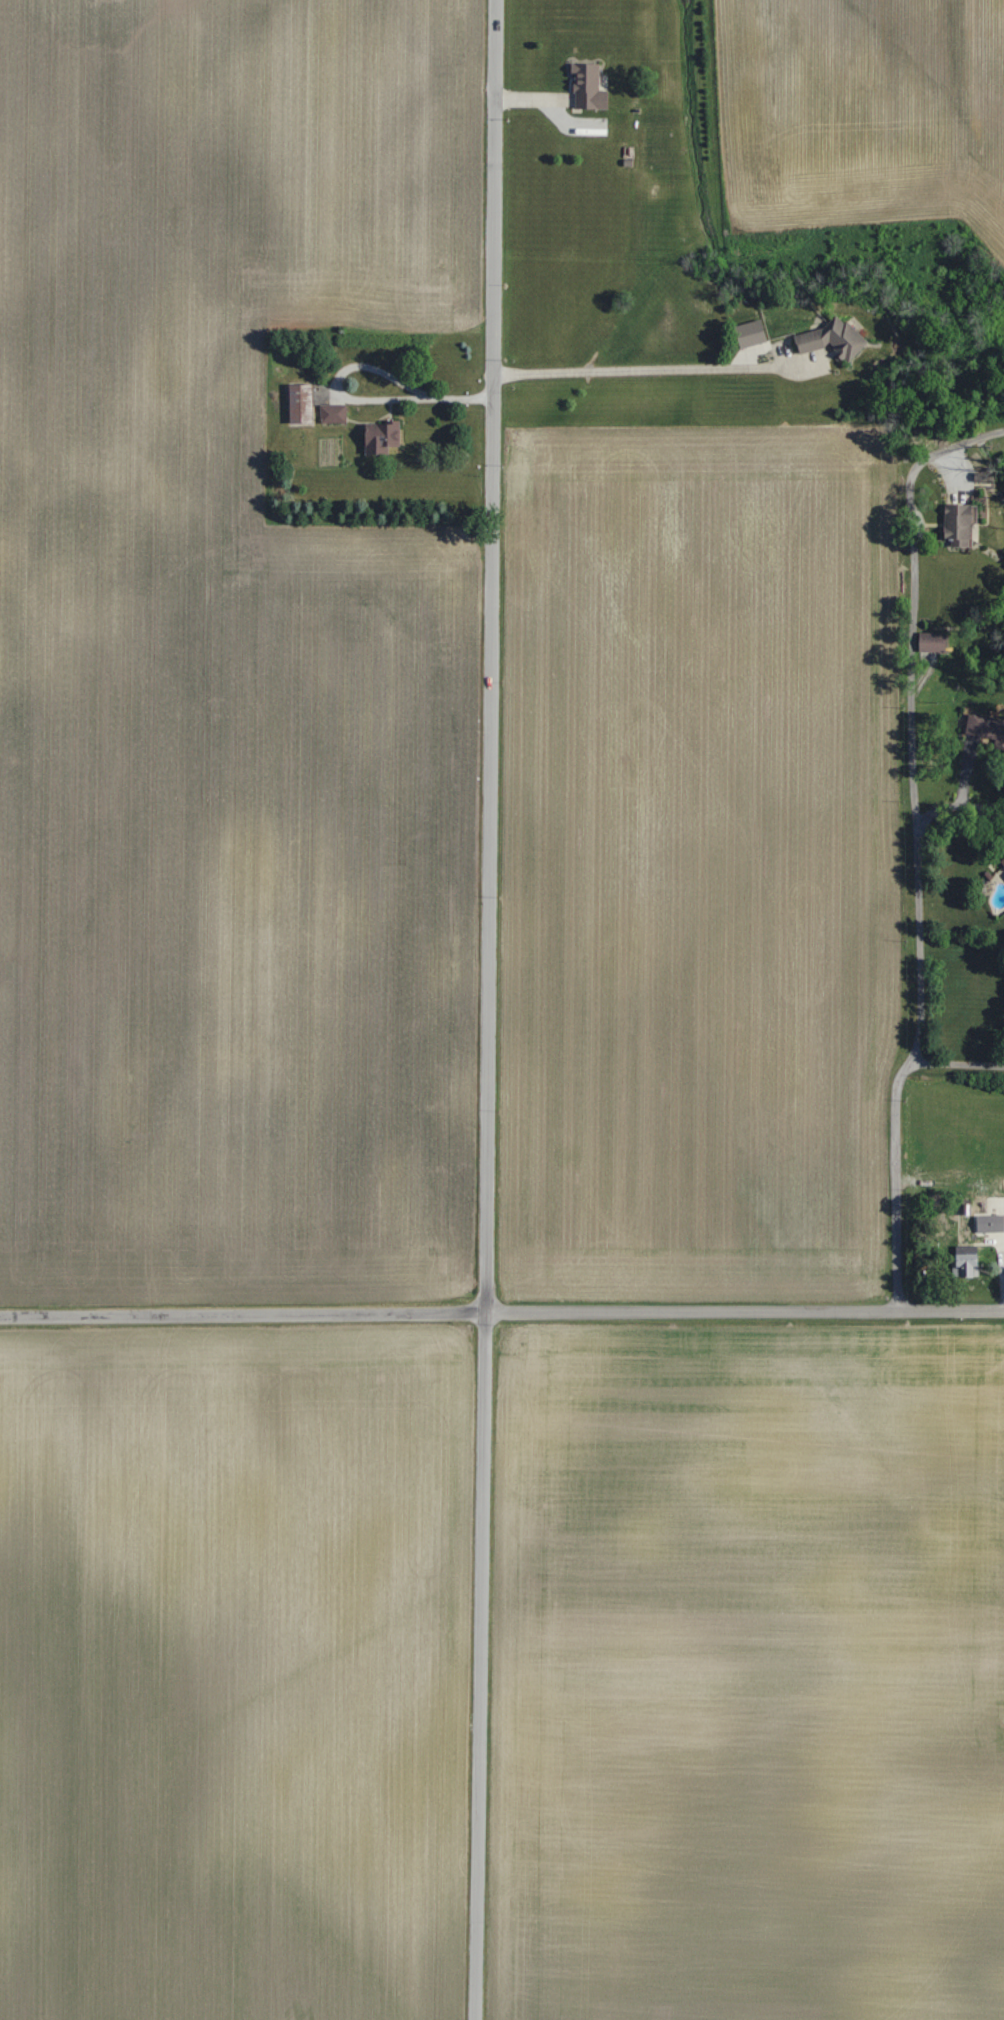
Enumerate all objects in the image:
building: (588, 87)
building: (832, 339)
road: (648, 373)
road: (355, 402)
building: (301, 404)
building: (333, 414)
building: (382, 438)
building: (957, 525)
road: (913, 601)
building: (933, 642)
building: (986, 729)
building: (1002, 861)
road: (919, 942)
road: (488, 1010)
road: (897, 1180)
building: (990, 1224)
building: (966, 1262)
road: (744, 1311)
road: (242, 1316)

